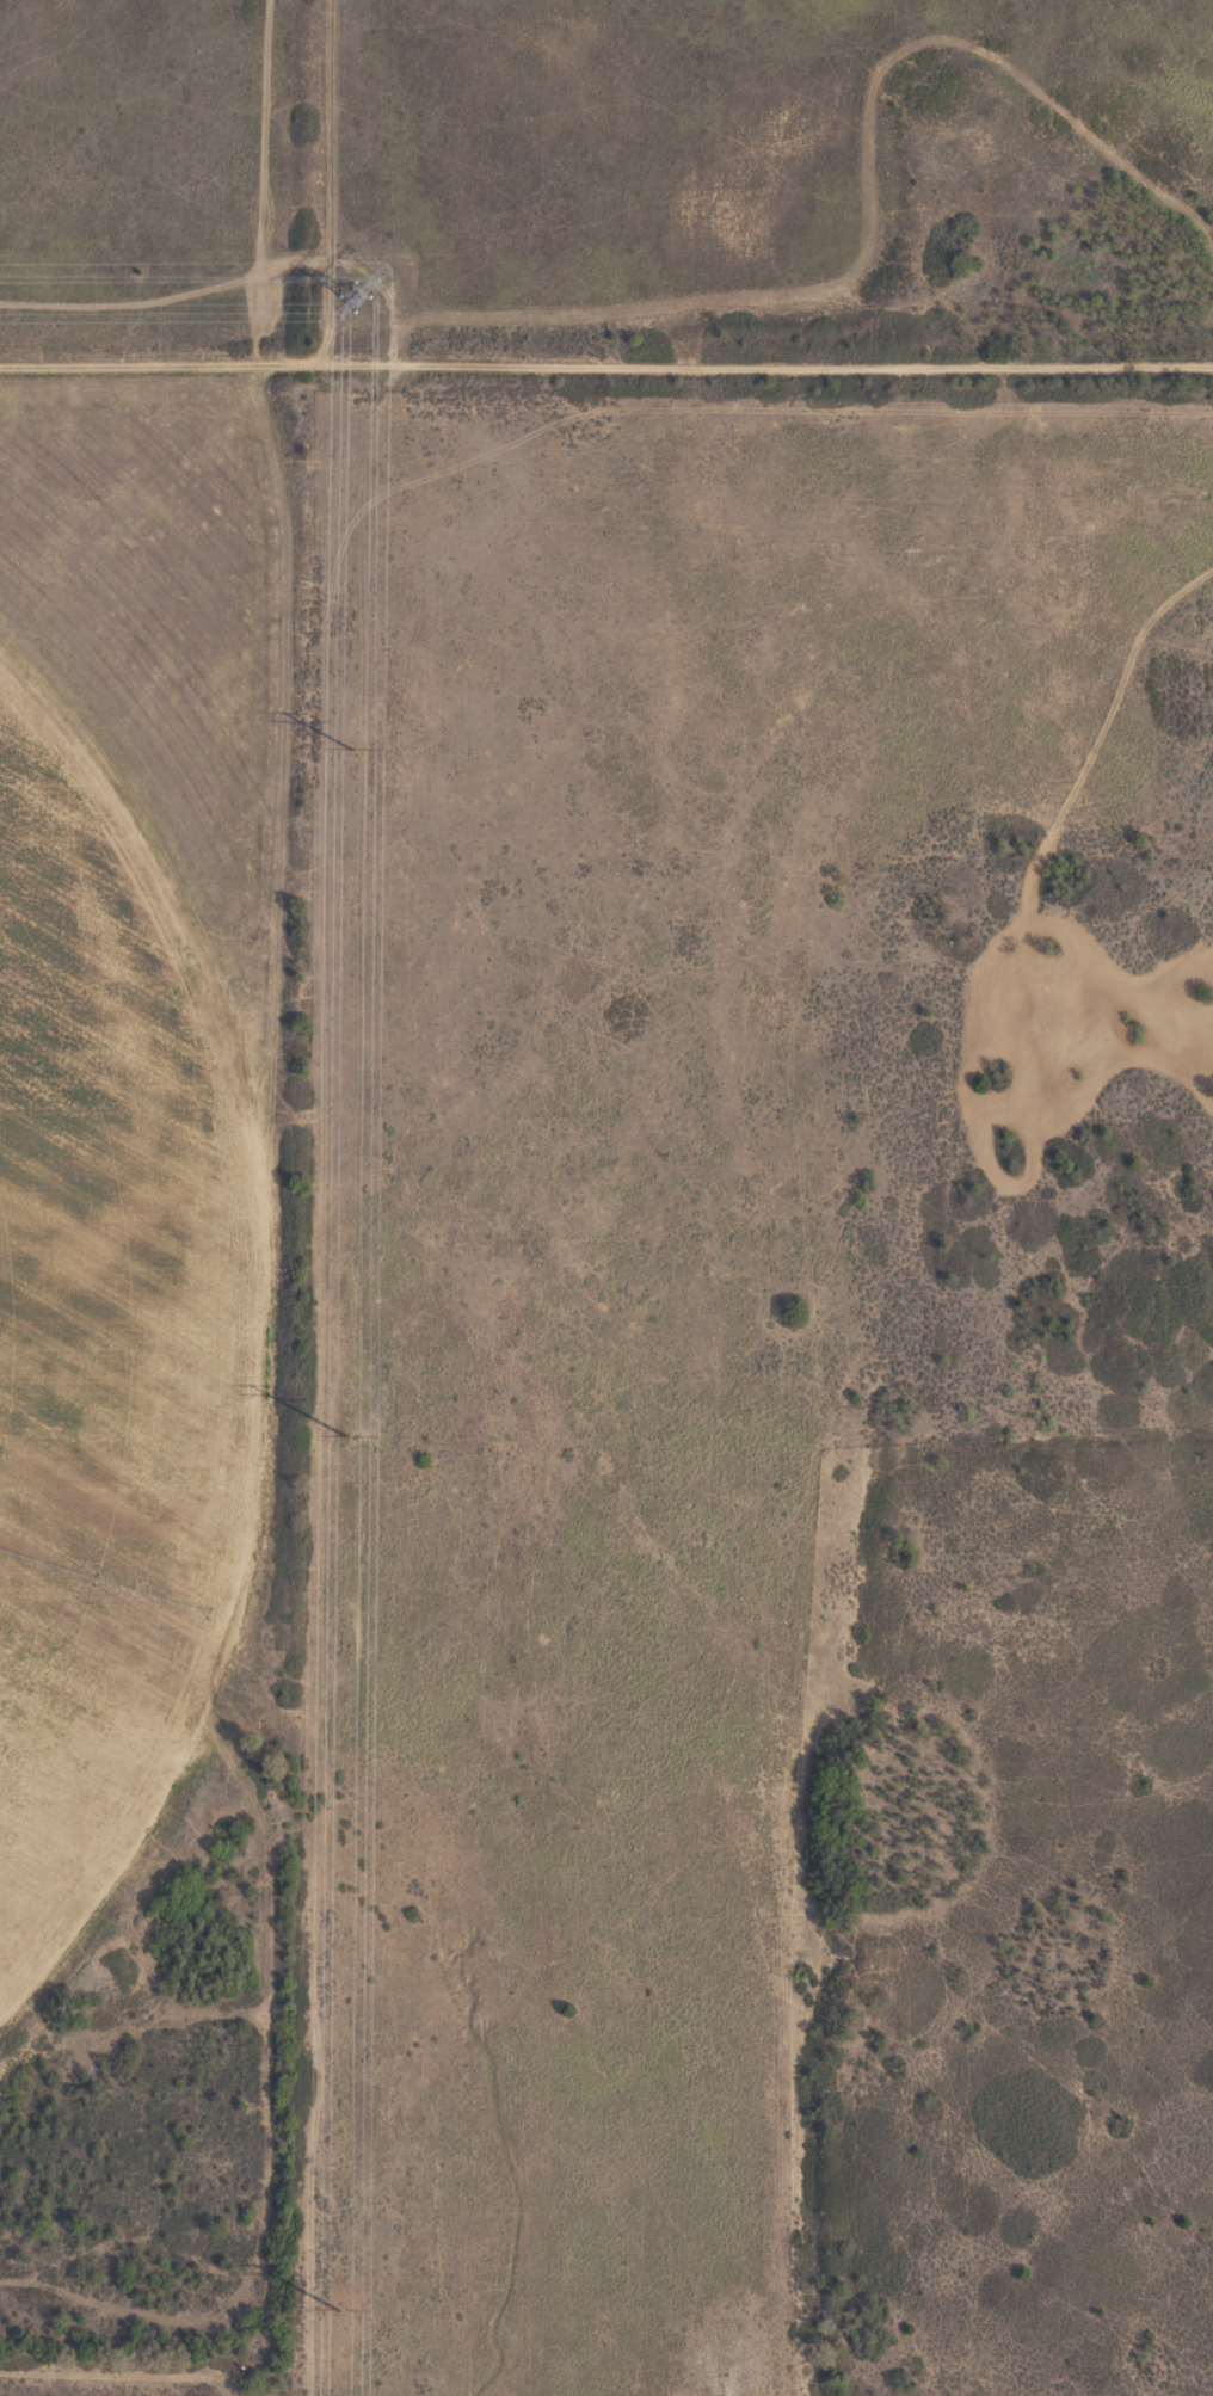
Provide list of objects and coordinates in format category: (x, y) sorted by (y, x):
power tower: (356, 295)
road: (606, 367)
power tower: (352, 749)
crop: (543, 1344)
power tower: (346, 1434)
power tower: (338, 2308)

